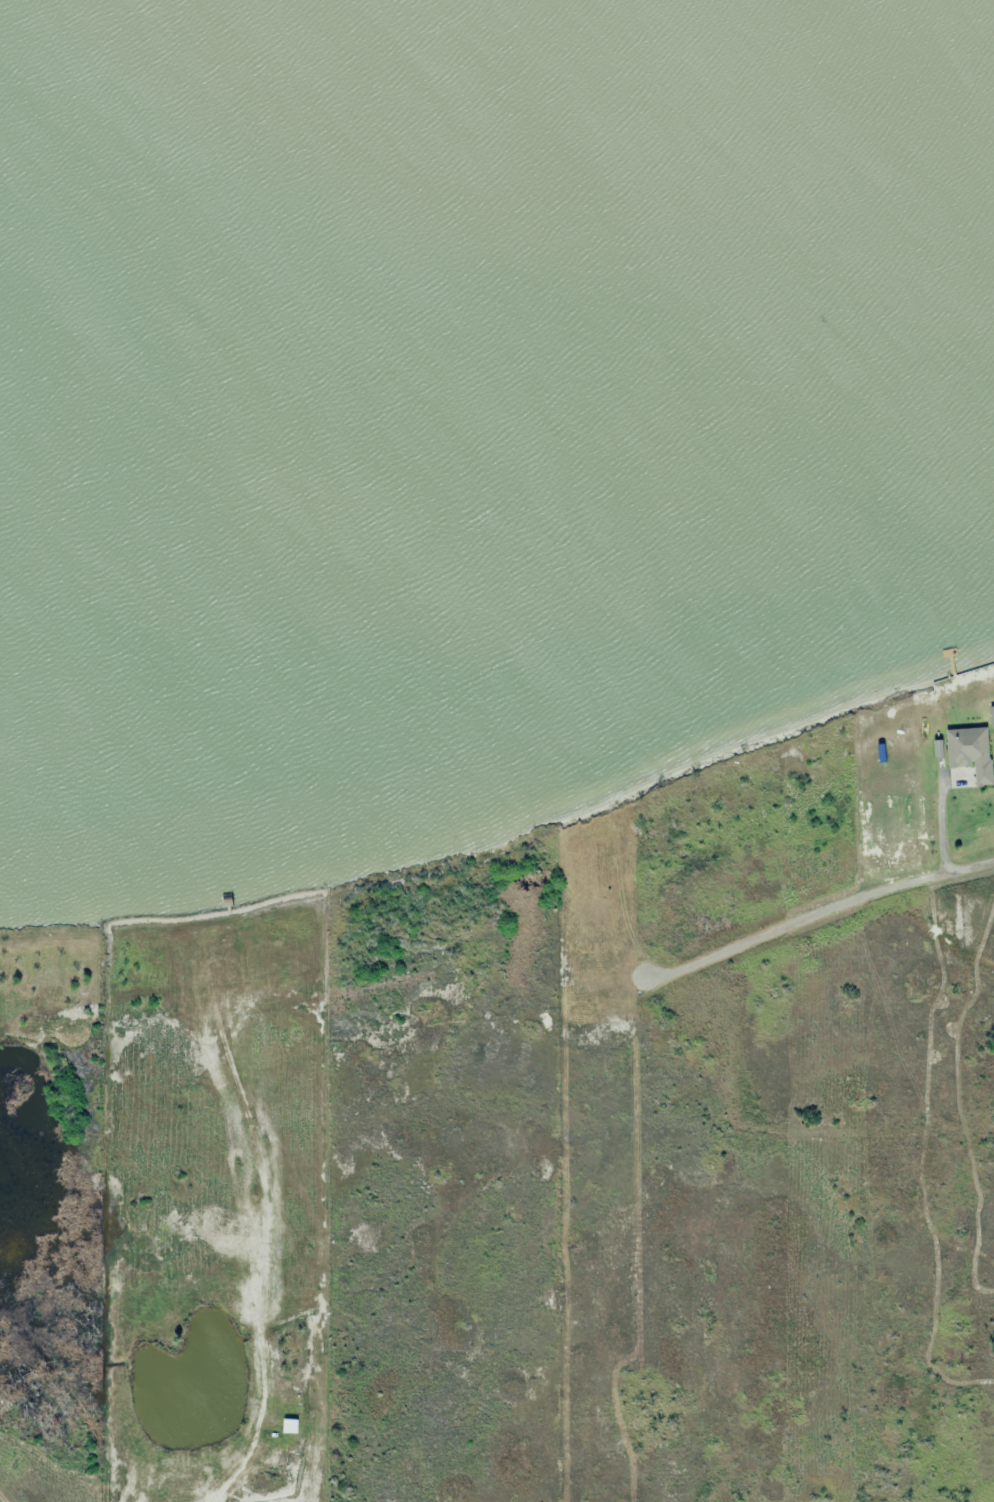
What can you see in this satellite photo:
building: (970, 752)
road: (940, 848)

